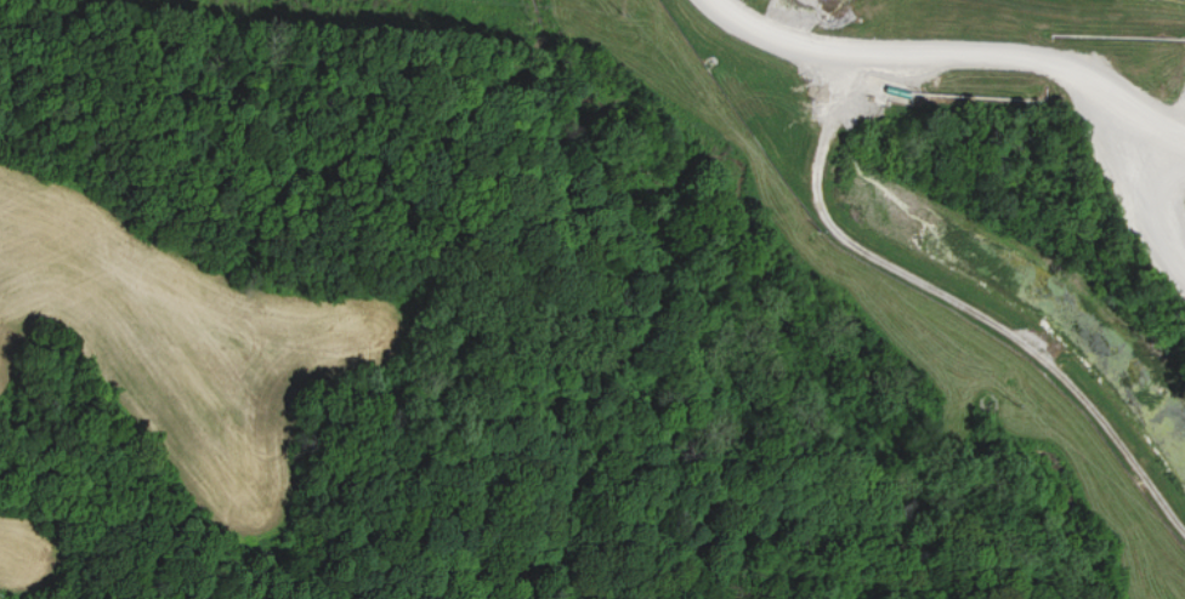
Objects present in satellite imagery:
road: (953, 50)

